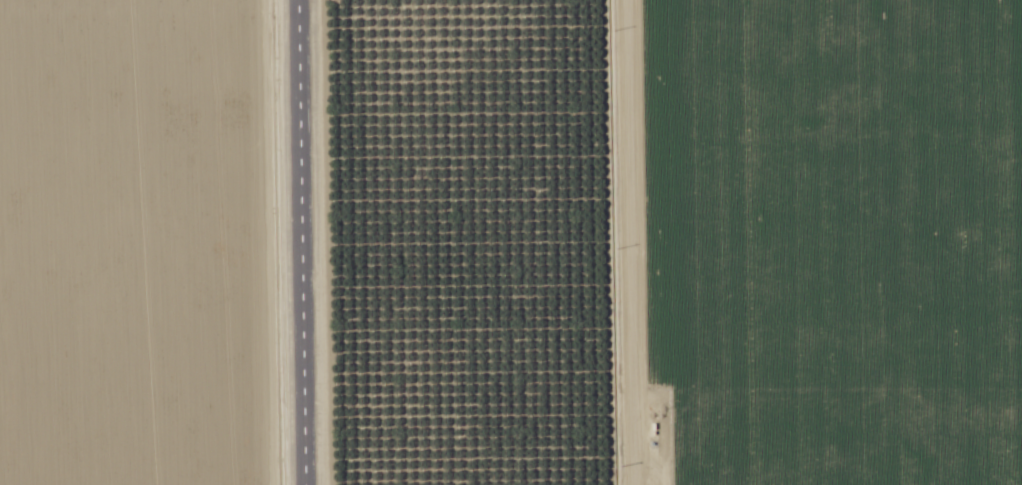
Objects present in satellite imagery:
crop: (128, 242)
airport runway: (298, 242)
road: (601, 242)
crop: (807, 242)

